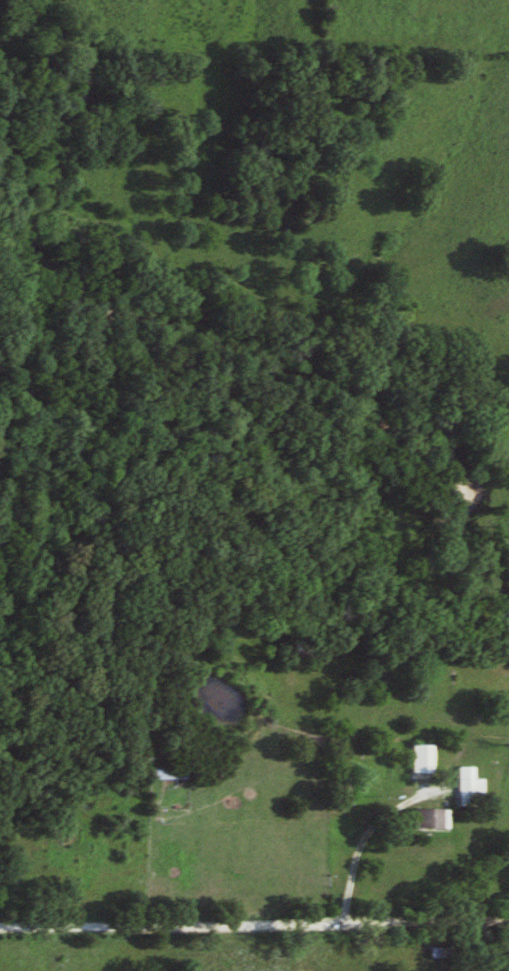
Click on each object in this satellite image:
building: (417, 759)
building: (161, 774)
building: (463, 787)
building: (425, 819)
road: (379, 825)
road: (254, 929)
building: (433, 953)

